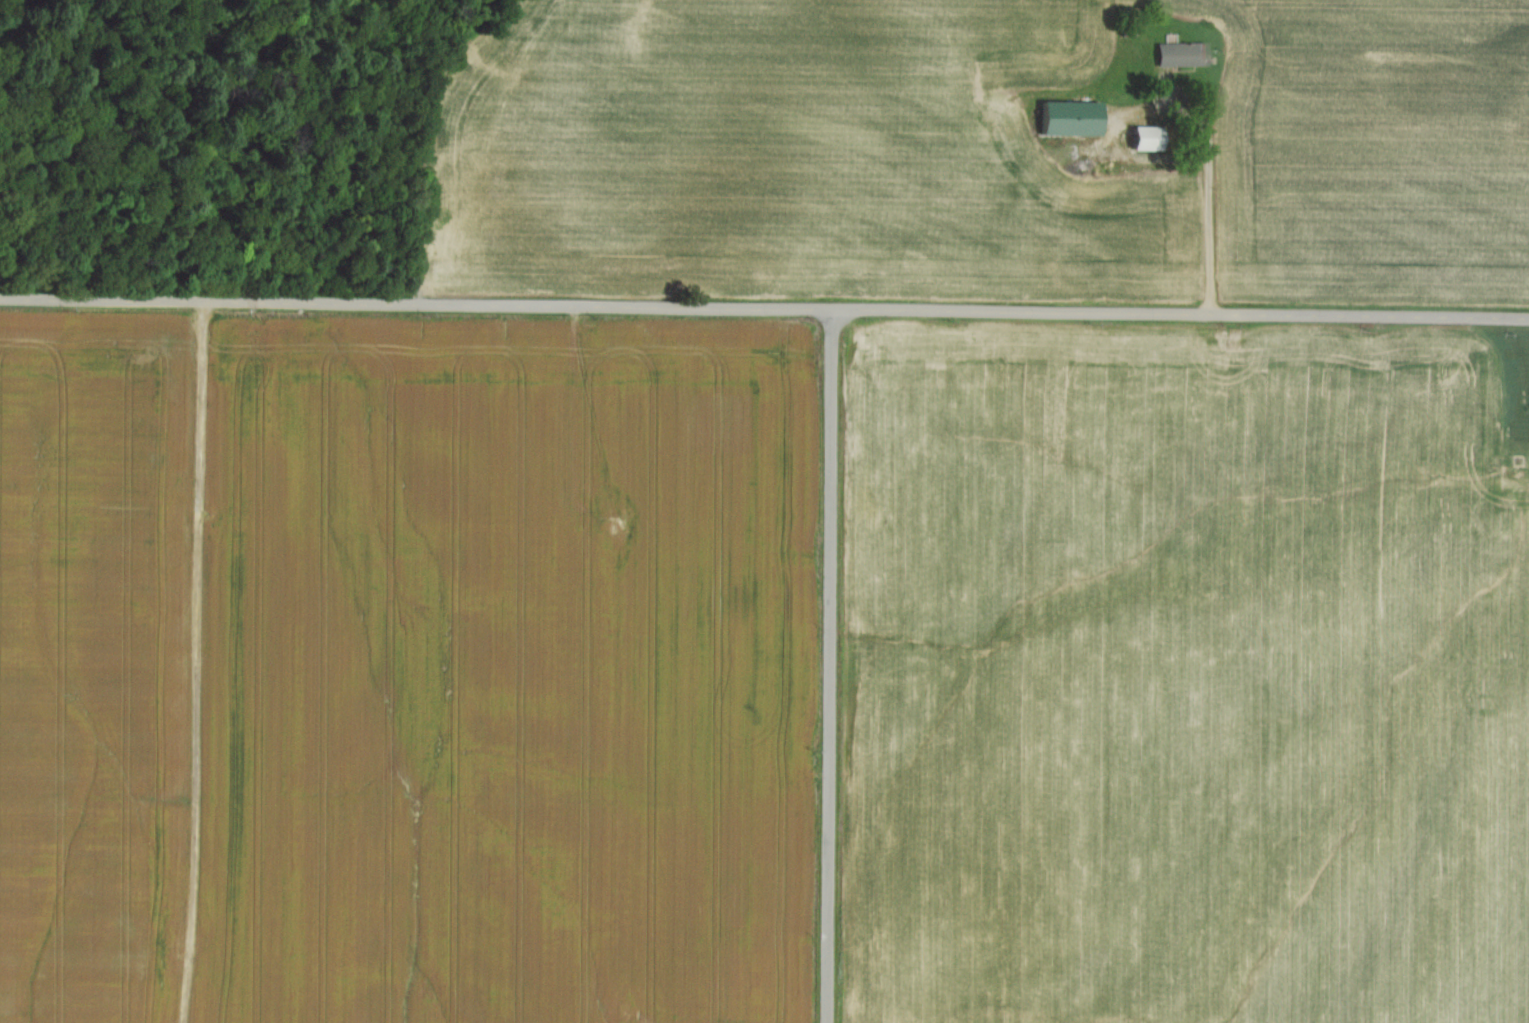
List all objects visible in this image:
building: (1131, 13)
building: (1184, 55)
building: (1074, 120)
building: (1149, 140)
road: (431, 147)
road: (1206, 168)
road: (764, 308)
road: (830, 665)

